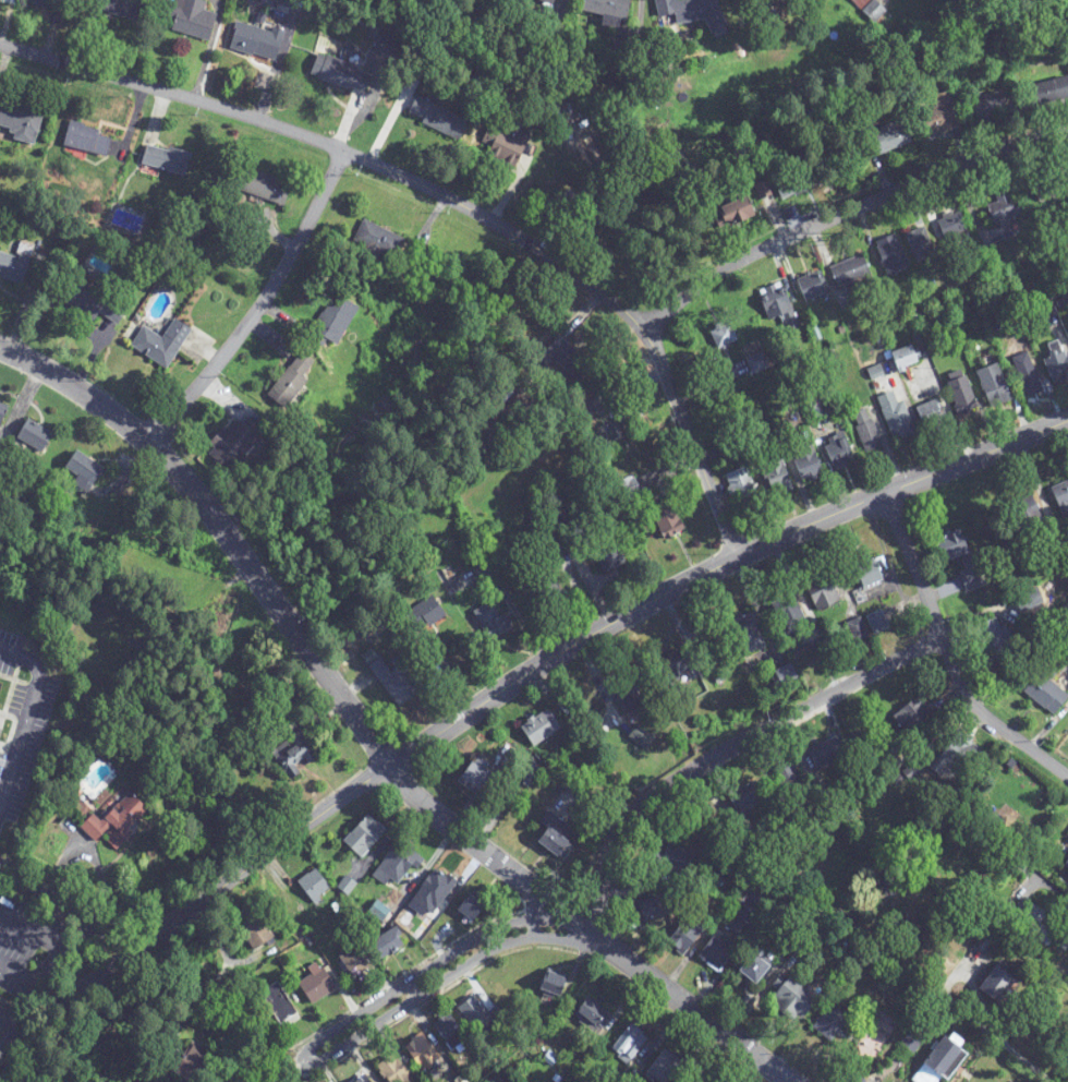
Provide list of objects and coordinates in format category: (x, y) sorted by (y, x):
building: (46, 3)
building: (120, 8)
building: (605, 8)
building: (690, 11)
building: (873, 11)
building: (190, 19)
building: (254, 41)
building: (339, 73)
building: (1045, 95)
building: (988, 106)
building: (436, 119)
building: (939, 119)
building: (20, 122)
building: (890, 137)
building: (86, 140)
building: (502, 146)
building: (163, 159)
building: (790, 183)
building: (260, 187)
road: (451, 199)
building: (1004, 208)
road: (846, 211)
building: (732, 212)
building: (954, 227)
building: (377, 241)
building: (920, 244)
building: (891, 255)
building: (15, 264)
building: (849, 272)
building: (812, 286)
building: (90, 302)
road: (262, 304)
building: (777, 305)
building: (332, 321)
building: (723, 336)
building: (159, 344)
building: (567, 358)
building: (903, 358)
building: (755, 359)
building: (1056, 364)
building: (1028, 374)
building: (290, 383)
building: (994, 386)
building: (962, 395)
building: (813, 407)
building: (1, 408)
building: (628, 410)
building: (932, 414)
building: (896, 417)
road: (663, 426)
building: (866, 430)
building: (33, 436)
building: (235, 440)
building: (838, 453)
building: (805, 460)
building: (82, 471)
building: (775, 474)
building: (742, 486)
building: (628, 488)
building: (1061, 498)
building: (416, 513)
building: (1027, 514)
building: (666, 519)
building: (553, 546)
building: (608, 551)
building: (967, 560)
building: (870, 574)
building: (547, 587)
building: (823, 594)
building: (789, 614)
building: (425, 615)
building: (491, 622)
building: (877, 623)
building: (858, 630)
building: (749, 635)
building: (992, 639)
road: (949, 657)
building: (676, 665)
building: (395, 677)
building: (1044, 686)
road: (507, 687)
building: (628, 694)
building: (912, 714)
road: (28, 717)
building: (3, 726)
building: (538, 729)
road: (369, 733)
road: (727, 748)
building: (294, 752)
building: (828, 753)
building: (472, 778)
building: (747, 797)
building: (114, 822)
building: (364, 837)
building: (554, 839)
building: (675, 858)
road: (95, 862)
building: (1066, 865)
building: (314, 887)
road: (1057, 890)
building: (433, 891)
road: (66, 905)
building: (469, 909)
building: (644, 913)
building: (739, 922)
building: (1037, 925)
building: (255, 931)
building: (685, 934)
road: (80, 942)
building: (385, 945)
road: (61, 953)
building: (717, 953)
building: (351, 963)
road: (442, 969)
building: (752, 970)
road: (220, 973)
road: (949, 978)
building: (553, 986)
building: (994, 986)
building: (315, 987)
building: (793, 997)
building: (278, 1003)
building: (477, 1015)
building: (592, 1015)
road: (16, 1020)
building: (830, 1023)
building: (450, 1032)
building: (629, 1045)
building: (422, 1053)
building: (938, 1059)
road: (1024, 1060)
building: (190, 1063)
building: (362, 1079)
building: (696, 1079)

